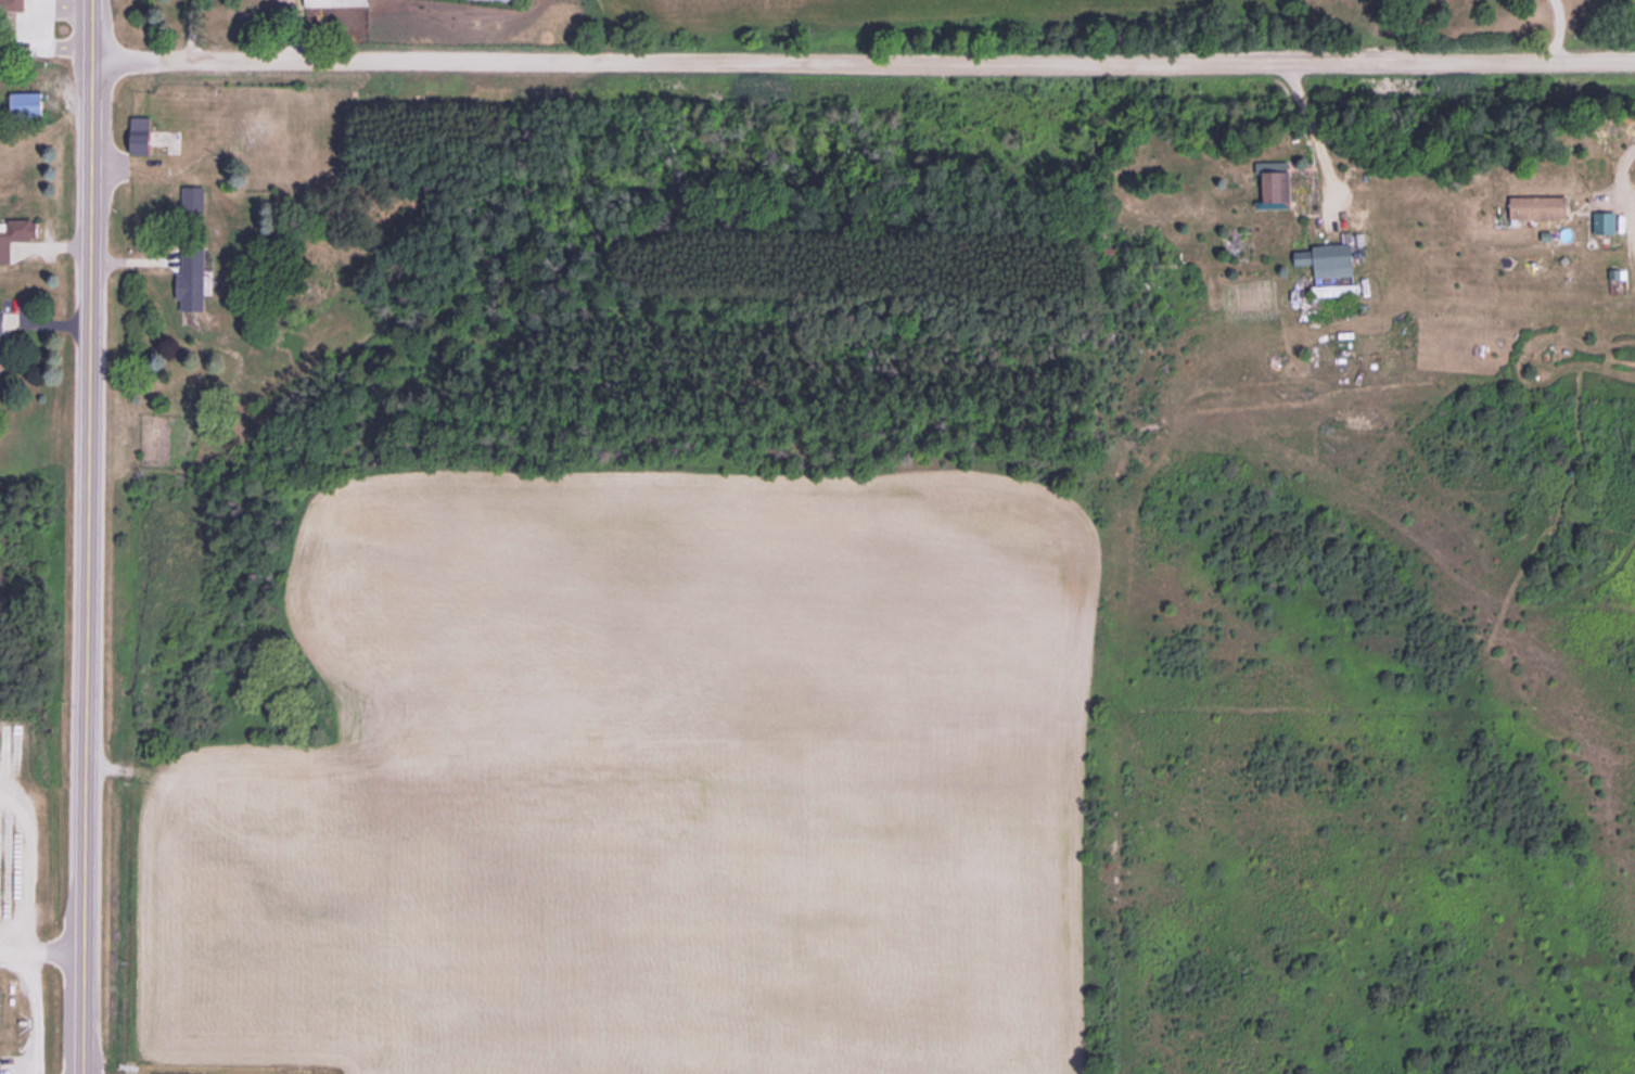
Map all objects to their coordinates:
building: (340, 3)
building: (13, 5)
road: (98, 30)
road: (866, 61)
building: (27, 103)
building: (142, 135)
building: (1276, 189)
building: (195, 194)
building: (1602, 222)
building: (15, 235)
building: (1333, 260)
building: (193, 282)
building: (2, 340)
road: (92, 567)

